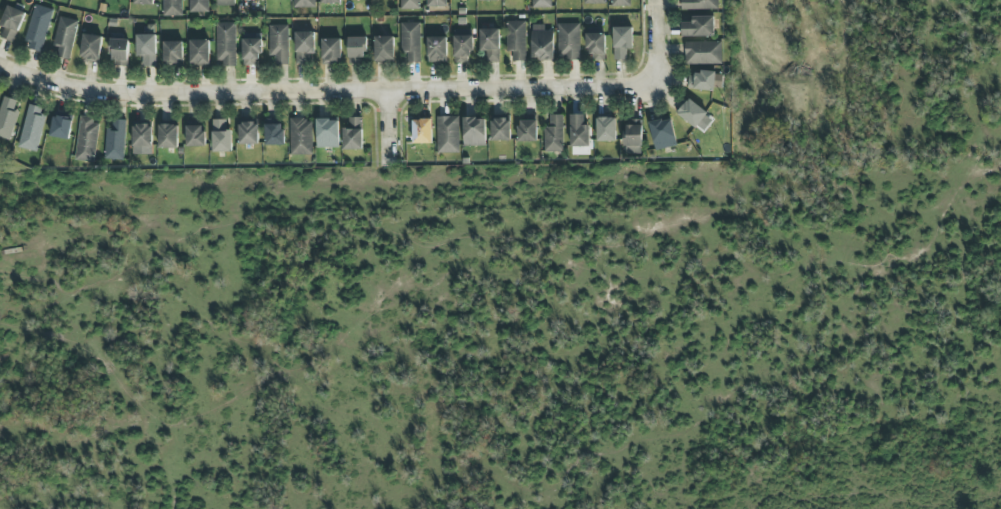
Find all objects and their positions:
building: (346, 0)
building: (488, 0)
building: (330, 1)
building: (143, 2)
building: (225, 2)
building: (435, 2)
building: (594, 2)
building: (620, 2)
building: (303, 3)
building: (541, 3)
building: (409, 4)
building: (698, 4)
building: (198, 5)
building: (172, 8)
building: (10, 22)
building: (698, 27)
building: (38, 28)
building: (64, 38)
building: (516, 40)
building: (410, 41)
building: (568, 41)
building: (621, 42)
road: (649, 42)
building: (278, 43)
building: (490, 43)
building: (541, 43)
building: (225, 44)
building: (303, 46)
building: (595, 46)
building: (90, 47)
building: (462, 47)
building: (383, 48)
building: (146, 49)
building: (436, 49)
building: (118, 50)
building: (250, 50)
building: (356, 50)
building: (331, 51)
building: (199, 52)
building: (702, 52)
building: (172, 53)
building: (701, 81)
road: (323, 89)
building: (690, 112)
building: (7, 117)
building: (32, 127)
building: (60, 127)
building: (500, 129)
building: (605, 129)
building: (421, 131)
building: (474, 131)
building: (527, 131)
building: (578, 131)
building: (633, 132)
building: (248, 133)
building: (274, 133)
building: (326, 133)
building: (352, 134)
building: (447, 134)
building: (553, 134)
building: (662, 134)
building: (142, 135)
building: (195, 135)
building: (167, 136)
building: (220, 136)
building: (301, 137)
road: (389, 137)
building: (86, 139)
building: (115, 140)

